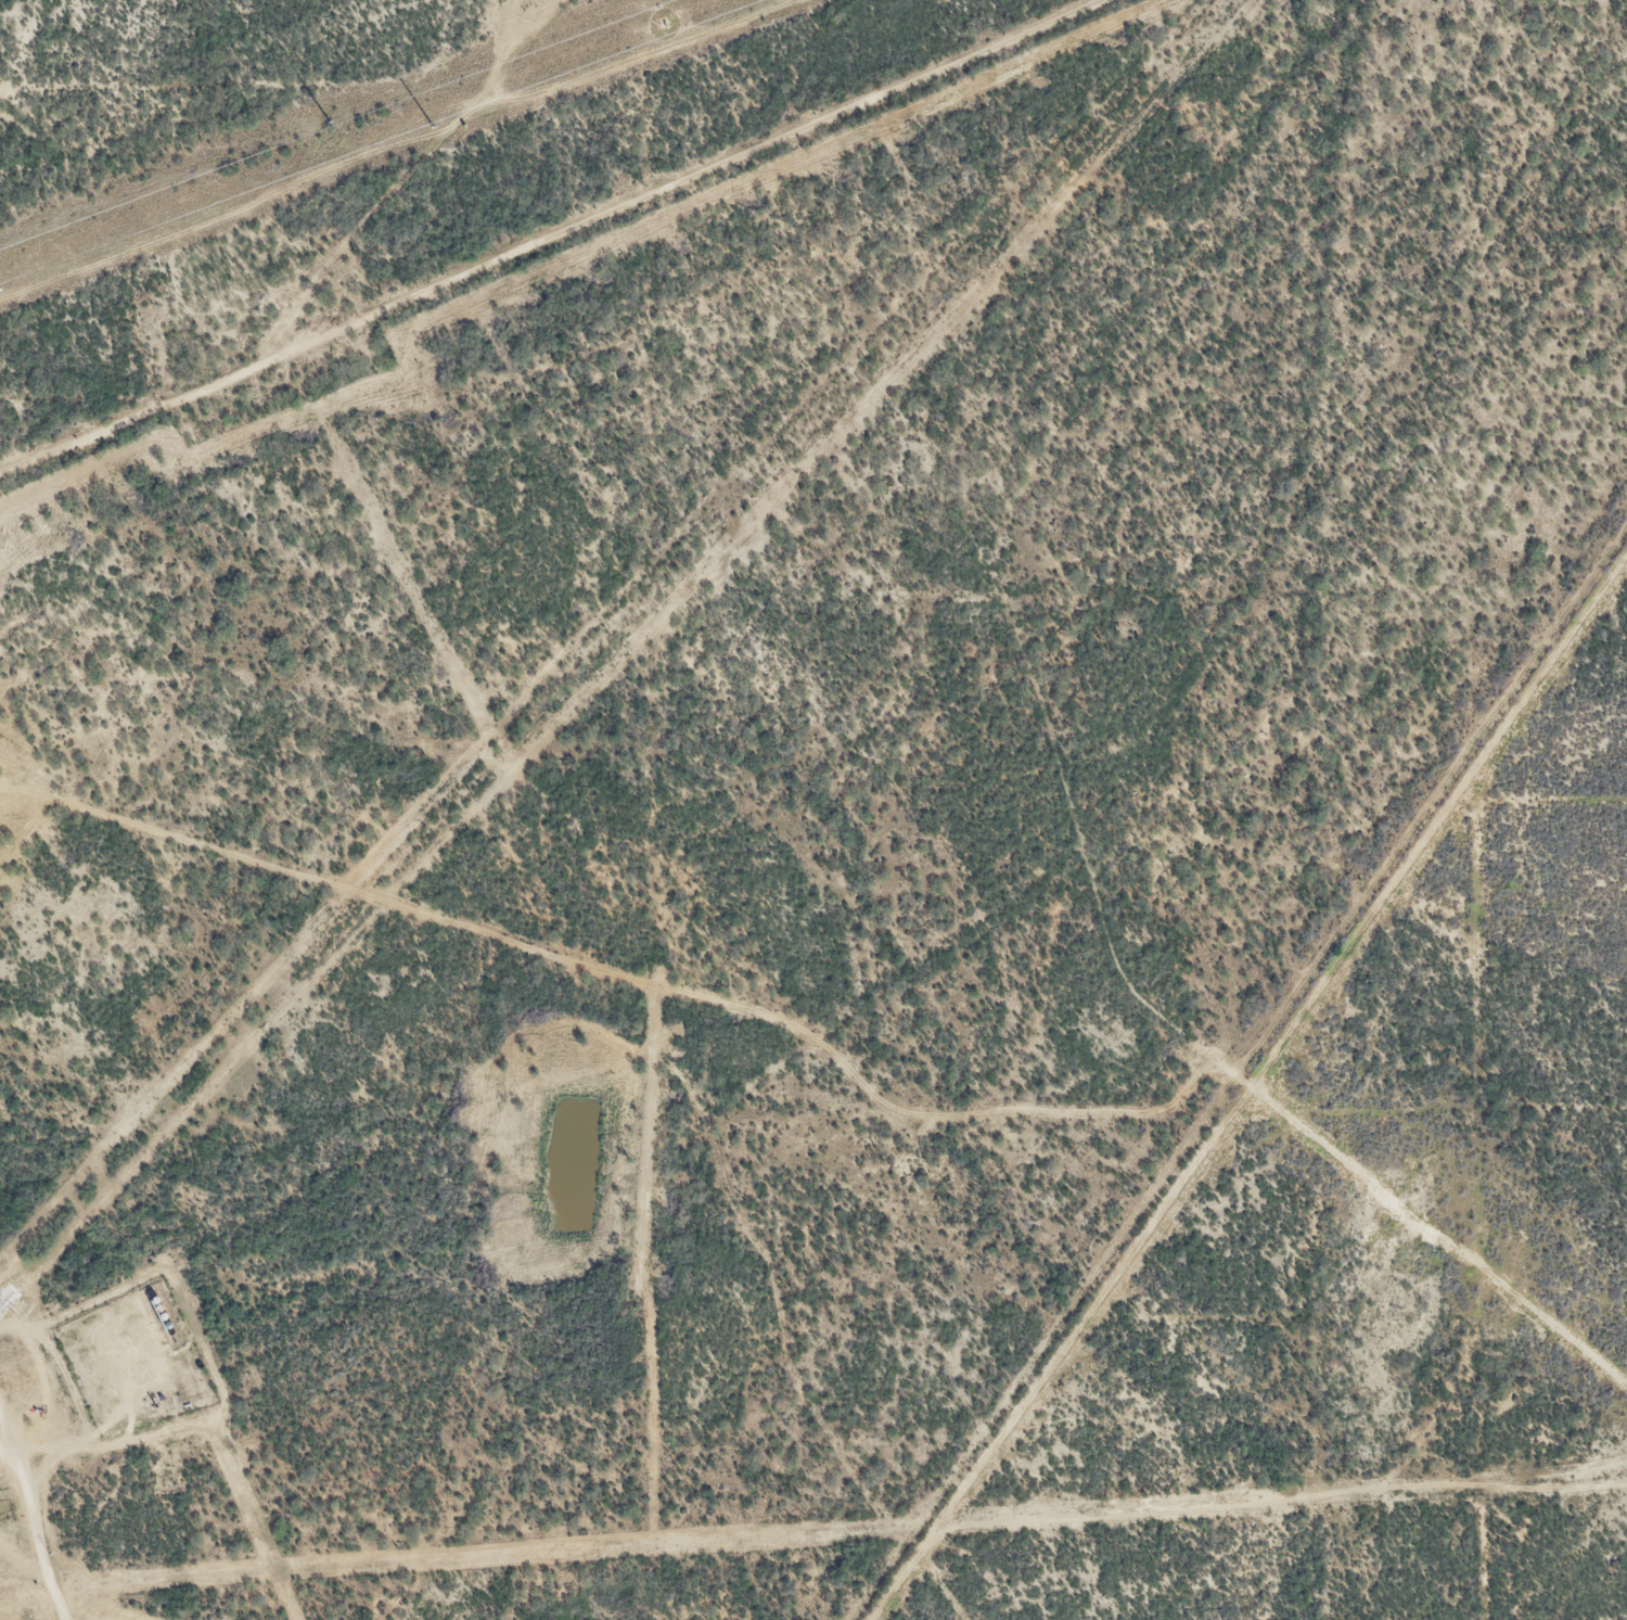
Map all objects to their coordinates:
power tower: (330, 123)
power tower: (433, 128)

